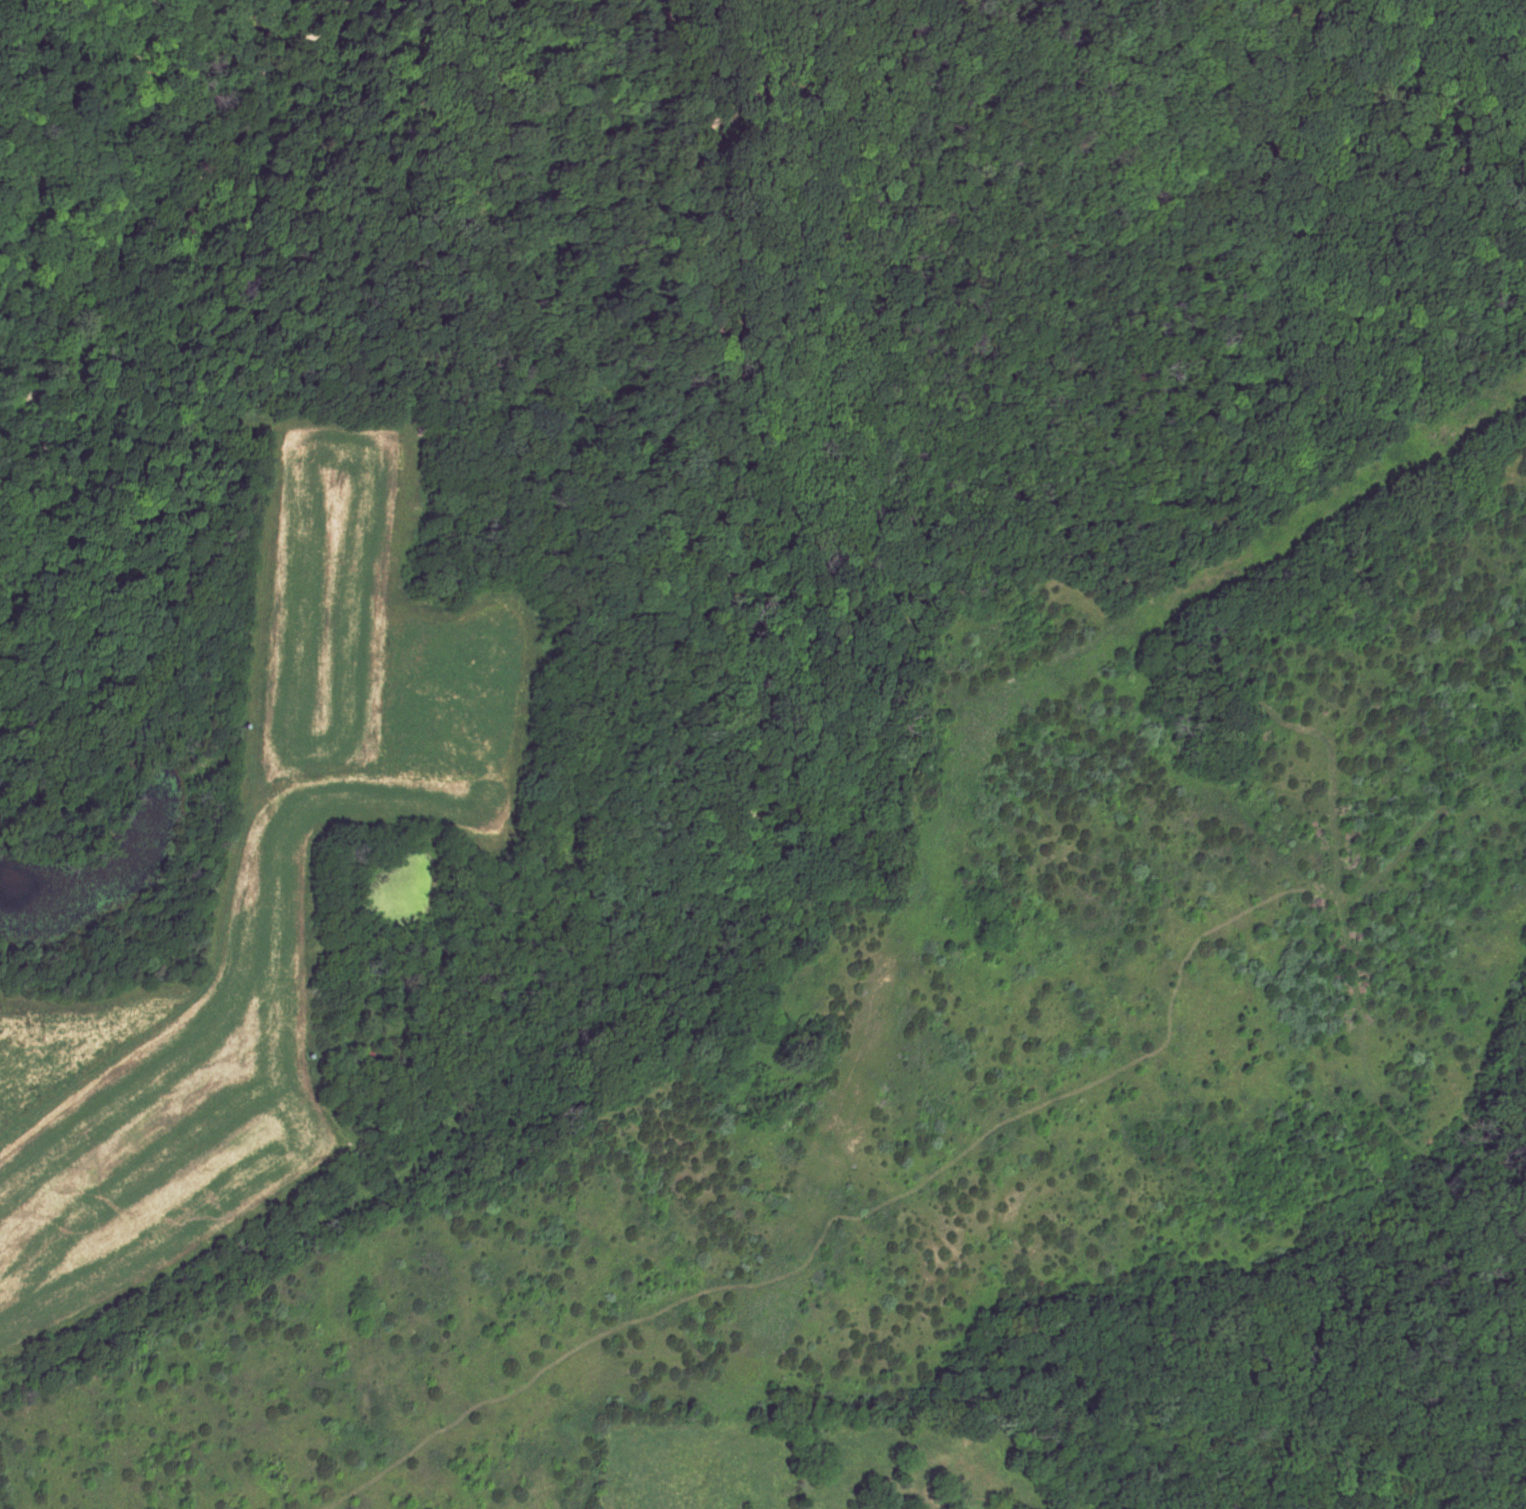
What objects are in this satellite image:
road: (886, 90)
road: (1055, 328)
road: (1215, 659)
park: (791, 698)

